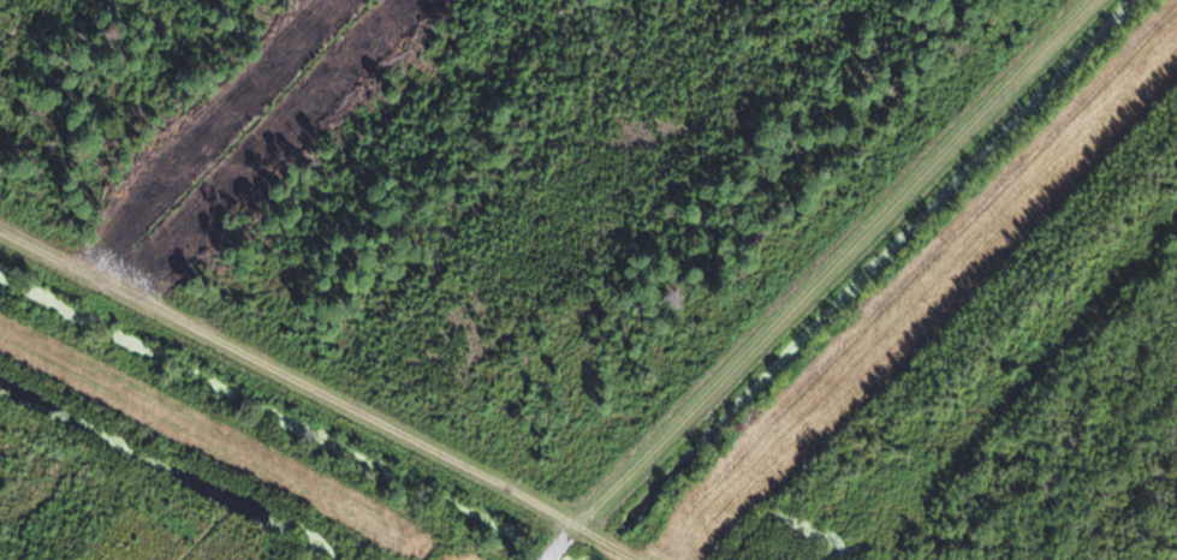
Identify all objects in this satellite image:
road: (821, 282)
road: (316, 404)

